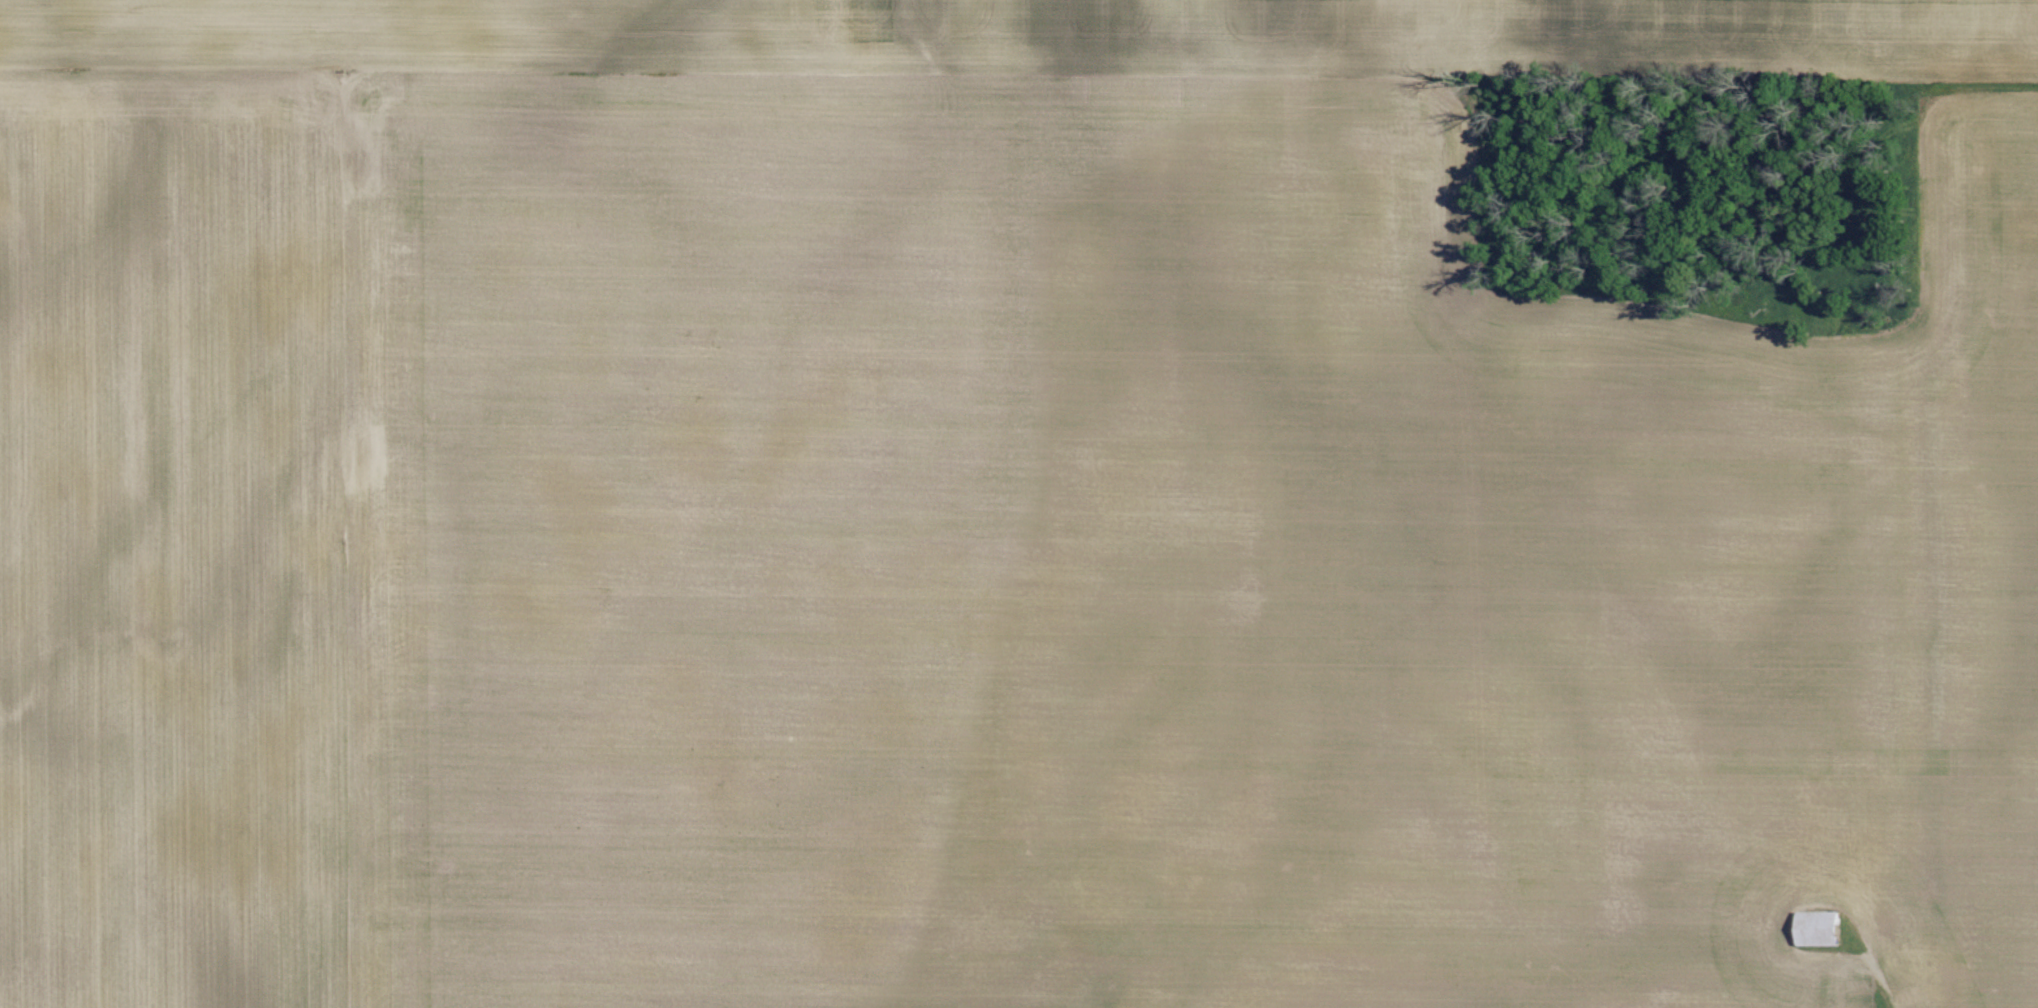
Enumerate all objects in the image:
road: (1882, 983)

